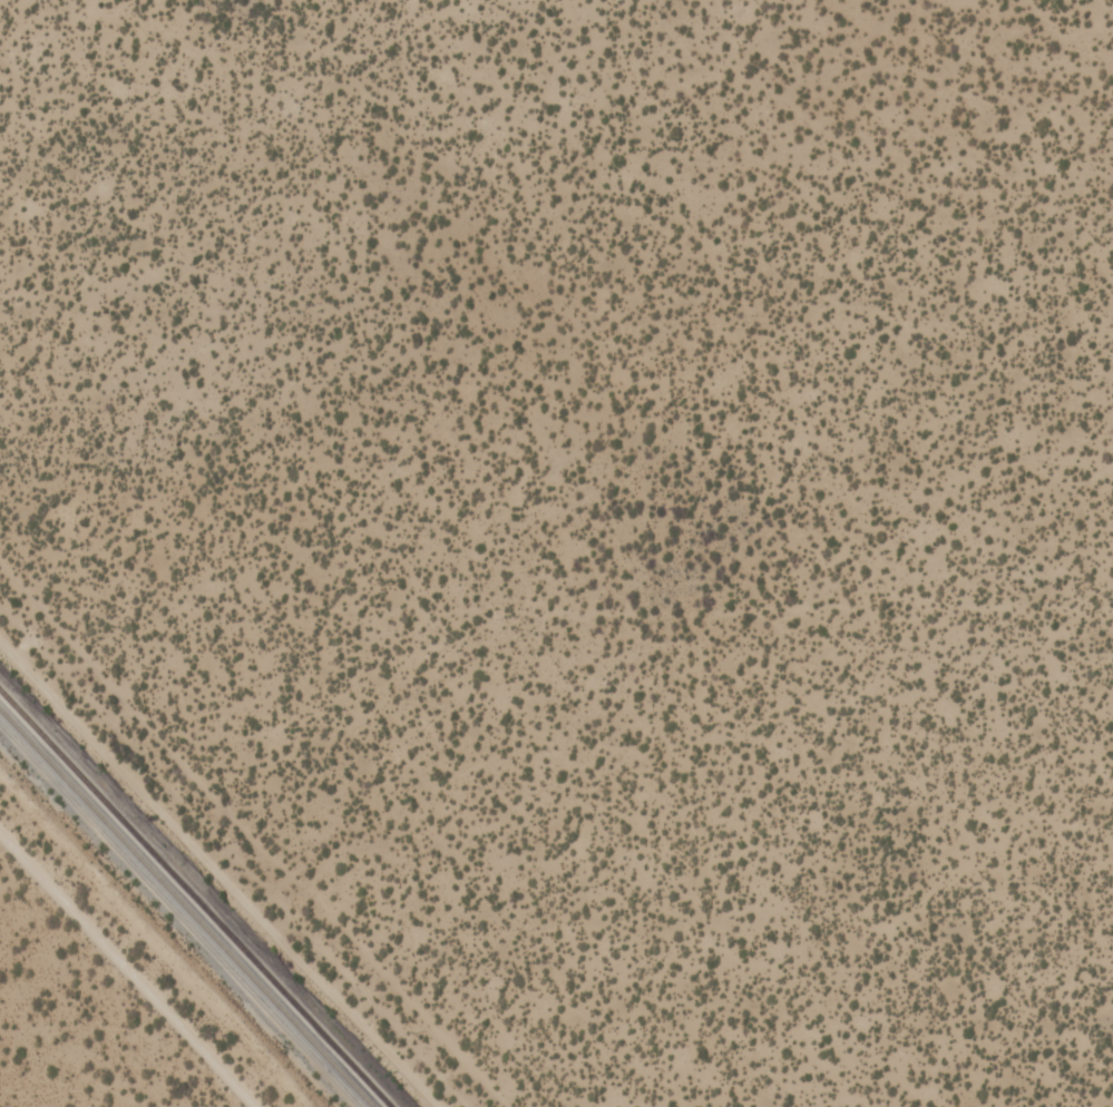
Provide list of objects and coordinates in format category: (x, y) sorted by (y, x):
road: (257, 833)
road: (209, 882)
railway: (194, 899)
railway: (185, 909)
road: (128, 969)

